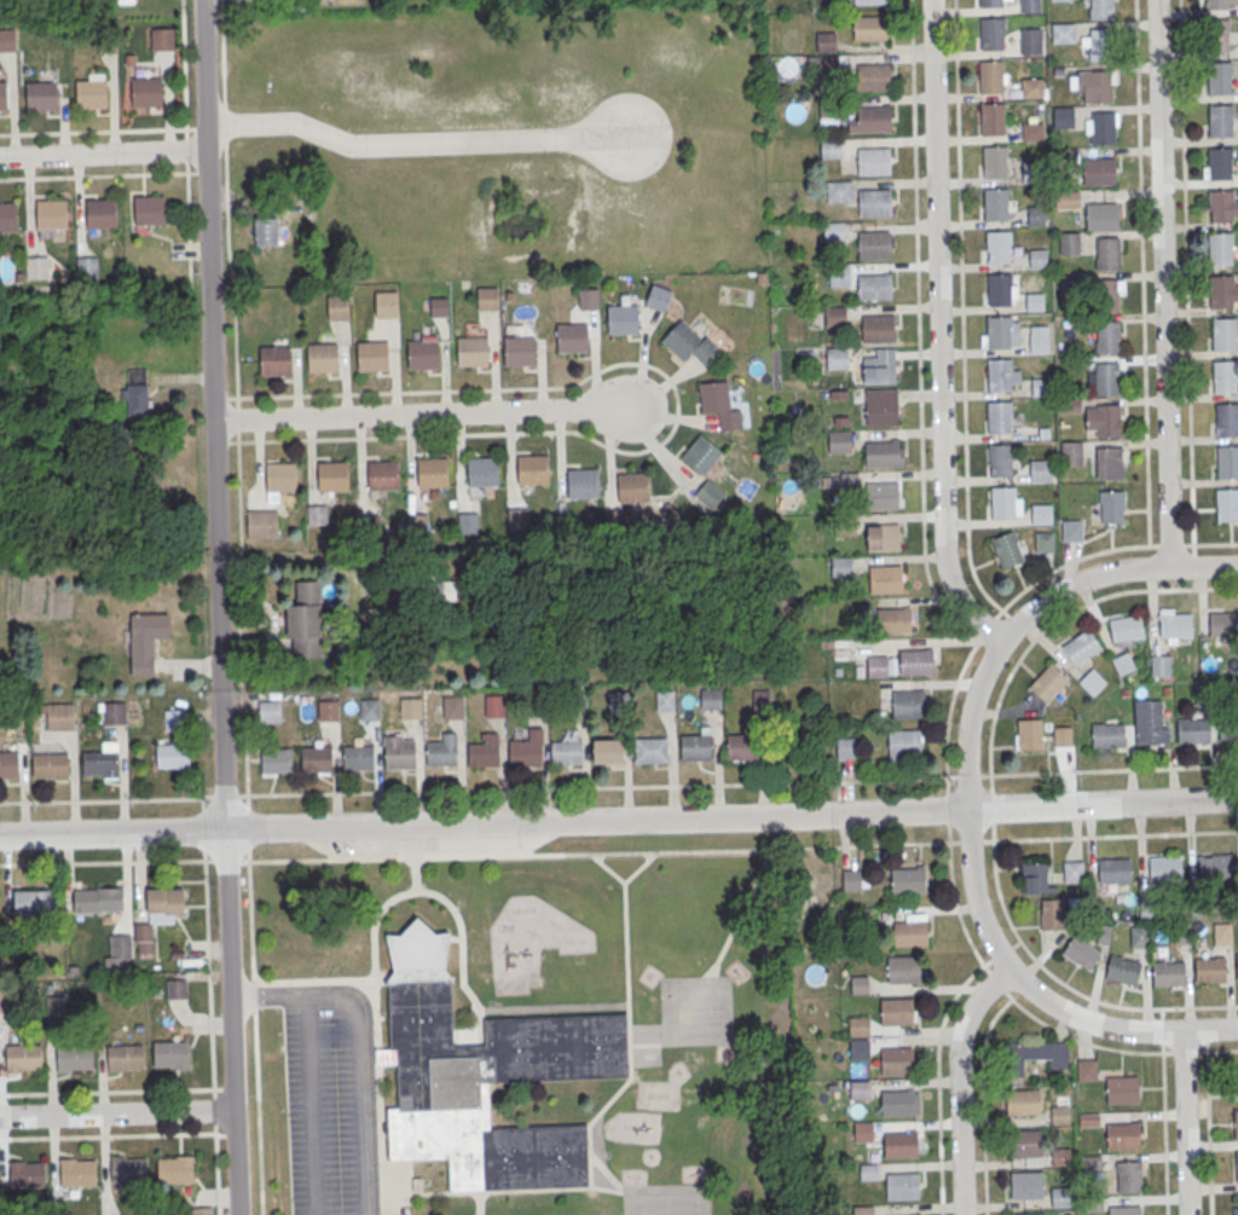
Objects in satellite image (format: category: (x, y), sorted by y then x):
building: (1060, 0)
building: (869, 1)
building: (990, 2)
building: (1215, 4)
building: (1030, 6)
building: (1101, 8)
building: (869, 29)
building: (1063, 31)
building: (991, 33)
building: (1216, 34)
building: (7, 40)
building: (162, 40)
building: (1030, 41)
building: (106, 42)
building: (825, 42)
building: (1100, 44)
road: (184, 64)
building: (828, 66)
building: (991, 76)
building: (1219, 76)
building: (873, 79)
building: (1093, 85)
building: (1031, 87)
building: (145, 92)
building: (91, 94)
building: (2, 97)
building: (41, 97)
building: (828, 106)
building: (1061, 116)
building: (991, 117)
building: (873, 118)
building: (1220, 120)
building: (1103, 127)
building: (1032, 131)
road: (411, 141)
building: (829, 149)
road: (186, 151)
road: (102, 155)
building: (874, 160)
building: (995, 161)
building: (1220, 163)
building: (1032, 170)
building: (1099, 170)
building: (838, 192)
building: (1066, 198)
building: (874, 203)
building: (995, 203)
building: (1221, 206)
building: (150, 212)
building: (102, 214)
building: (51, 215)
building: (1037, 215)
building: (1101, 215)
building: (8, 219)
road: (227, 220)
building: (266, 232)
building: (833, 232)
building: (1069, 243)
building: (874, 244)
building: (997, 247)
building: (1220, 248)
building: (1106, 253)
building: (1037, 259)
building: (86, 268)
building: (36, 270)
road: (1141, 272)
road: (1186, 272)
building: (839, 277)
road: (1163, 283)
building: (1071, 285)
building: (874, 287)
building: (999, 289)
building: (1222, 291)
building: (1106, 296)
building: (658, 299)
building: (487, 300)
building: (589, 300)
building: (1035, 302)
building: (386, 306)
building: (441, 307)
building: (337, 308)
road: (961, 309)
building: (835, 316)
building: (623, 320)
building: (878, 326)
road: (918, 330)
road: (938, 331)
building: (999, 331)
building: (1223, 334)
building: (1106, 336)
building: (572, 337)
building: (690, 342)
building: (1039, 343)
building: (472, 351)
building: (519, 351)
building: (422, 353)
building: (371, 354)
building: (322, 357)
building: (835, 357)
building: (274, 359)
building: (880, 366)
building: (999, 374)
building: (1223, 376)
building: (1106, 378)
building: (1040, 387)
building: (135, 393)
road: (676, 404)
building: (719, 405)
building: (881, 406)
road: (433, 411)
building: (999, 416)
building: (1226, 418)
building: (1107, 420)
building: (839, 441)
building: (881, 452)
building: (1071, 453)
building: (701, 456)
building: (1000, 459)
building: (1227, 461)
building: (1109, 462)
building: (532, 469)
building: (432, 471)
building: (482, 471)
building: (1040, 471)
building: (381, 474)
building: (280, 475)
building: (332, 475)
building: (582, 482)
building: (632, 487)
building: (710, 493)
building: (881, 494)
building: (1002, 502)
building: (1227, 504)
building: (1111, 507)
building: (1041, 514)
building: (317, 516)
building: (517, 521)
building: (617, 521)
building: (468, 523)
building: (262, 526)
building: (417, 526)
building: (845, 526)
building: (369, 527)
building: (1071, 530)
building: (883, 536)
building: (1043, 542)
building: (1007, 549)
road: (295, 556)
building: (840, 565)
building: (886, 578)
road: (1020, 589)
building: (410, 590)
road: (218, 607)
building: (305, 620)
building: (896, 620)
road: (1053, 621)
building: (1223, 623)
building: (1174, 624)
building: (1126, 627)
building: (145, 642)
building: (1081, 647)
building: (915, 661)
building: (1123, 663)
building: (880, 665)
building: (1159, 665)
building: (1092, 681)
building: (1048, 682)
building: (711, 700)
building: (665, 701)
building: (617, 704)
building: (908, 704)
building: (578, 705)
building: (762, 705)
building: (536, 706)
building: (410, 708)
building: (453, 708)
building: (494, 708)
building: (370, 710)
building: (268, 712)
building: (328, 712)
building: (115, 714)
building: (59, 718)
building: (174, 721)
building: (1150, 722)
building: (1228, 727)
building: (1192, 729)
building: (1029, 734)
building: (1107, 734)
building: (1061, 735)
building: (904, 744)
building: (844, 747)
building: (695, 748)
building: (742, 748)
building: (527, 751)
building: (650, 751)
building: (442, 752)
building: (484, 753)
building: (608, 753)
building: (399, 754)
building: (567, 754)
building: (172, 756)
building: (359, 758)
building: (317, 759)
building: (99, 762)
building: (276, 762)
building: (8, 763)
building: (50, 764)
road: (1107, 769)
road: (967, 775)
road: (597, 786)
road: (225, 794)
road: (106, 798)
road: (247, 799)
road: (966, 799)
road: (202, 802)
road: (990, 806)
road: (947, 808)
road: (619, 818)
road: (203, 828)
road: (247, 828)
road: (948, 833)
road: (1115, 834)
road: (991, 835)
road: (970, 840)
road: (600, 850)
road: (228, 860)
road: (106, 862)
building: (1215, 867)
building: (1165, 868)
building: (1113, 869)
building: (1072, 870)
building: (1034, 878)
building: (908, 879)
building: (98, 899)
building: (30, 903)
building: (164, 904)
building: (1052, 914)
building: (910, 930)
building: (1180, 932)
building: (1222, 932)
building: (1138, 936)
building: (1081, 951)
building: (118, 953)
building: (1237, 966)
building: (903, 968)
building: (1210, 968)
building: (1122, 970)
road: (209, 973)
building: (1168, 973)
building: (858, 984)
road: (1068, 987)
building: (177, 988)
building: (4, 1000)
building: (895, 1011)
road: (993, 1022)
building: (858, 1025)
road: (1162, 1031)
road: (255, 1032)
road: (358, 1045)
building: (858, 1048)
building: (170, 1054)
building: (1037, 1054)
building: (23, 1057)
building: (73, 1057)
building: (123, 1057)
building: (897, 1060)
building: (1086, 1069)
building: (484, 1076)
road: (938, 1082)
road: (960, 1083)
building: (1233, 1083)
building: (860, 1088)
building: (1122, 1089)
road: (106, 1090)
building: (1023, 1100)
building: (897, 1103)
road: (311, 1105)
road: (214, 1110)
building: (1060, 1110)
parking lot: (319, 1111)
road: (1164, 1112)
road: (116, 1113)
road: (1208, 1117)
road: (1186, 1123)
building: (1236, 1123)
building: (863, 1130)
road: (108, 1135)
building: (1122, 1135)
building: (1024, 1142)
building: (901, 1144)
building: (1060, 1156)
building: (1091, 1162)
building: (1237, 1165)
building: (127, 1169)
building: (174, 1169)
road: (215, 1169)
building: (77, 1170)
building: (867, 1170)
building: (27, 1173)
building: (1128, 1175)
building: (902, 1185)
building: (1026, 1185)
building: (1059, 1197)
building: (1237, 1202)
building: (861, 1209)
building: (202, 1210)
building: (1124, 1210)
building: (1029, 1214)

